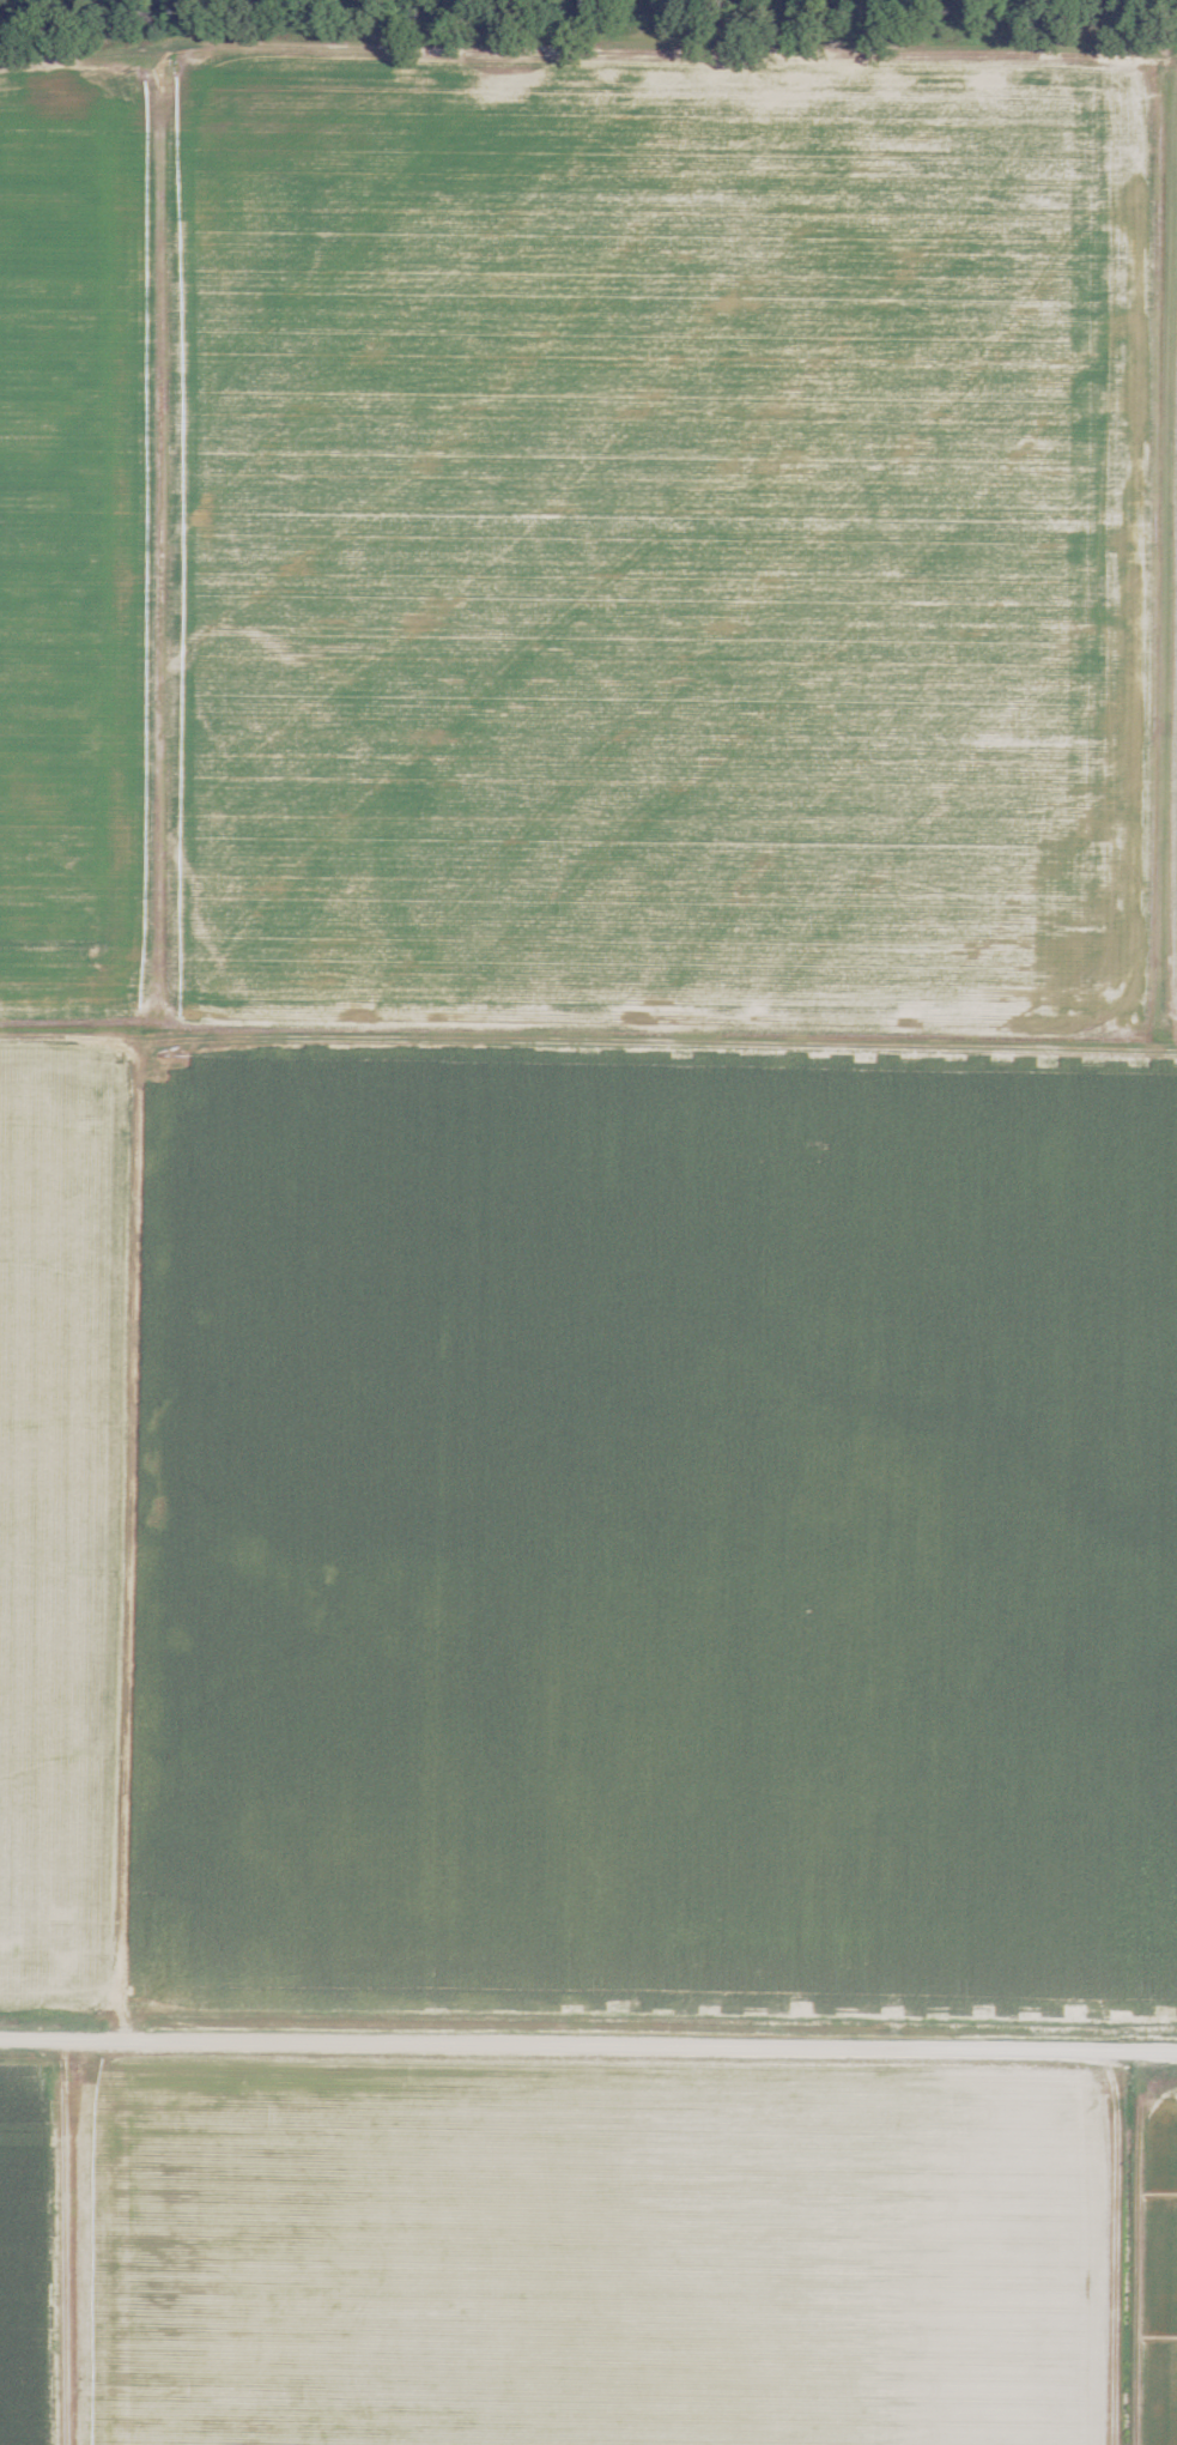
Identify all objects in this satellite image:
road: (588, 53)
road: (164, 541)
road: (1160, 995)
road: (1052, 1040)
road: (588, 2048)
road: (67, 2245)

